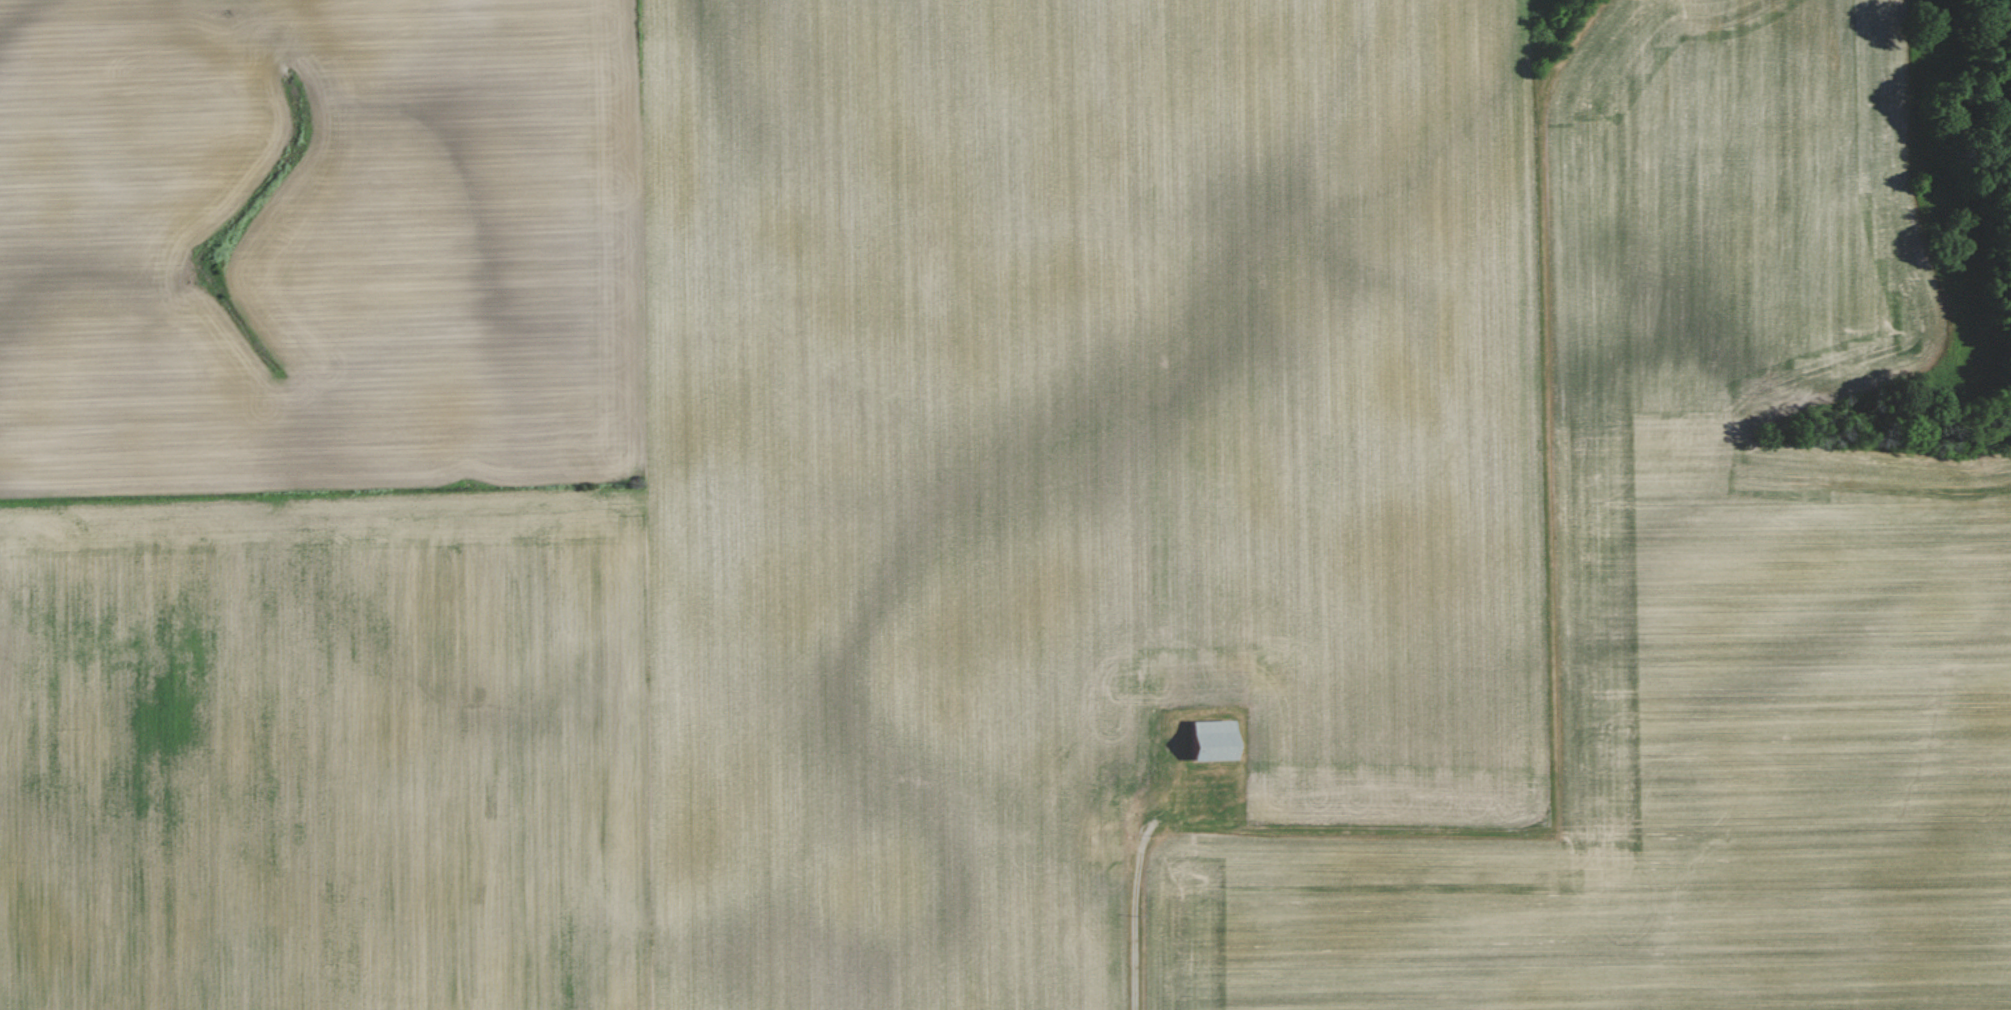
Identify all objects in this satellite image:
building: (1204, 740)
road: (1132, 915)

